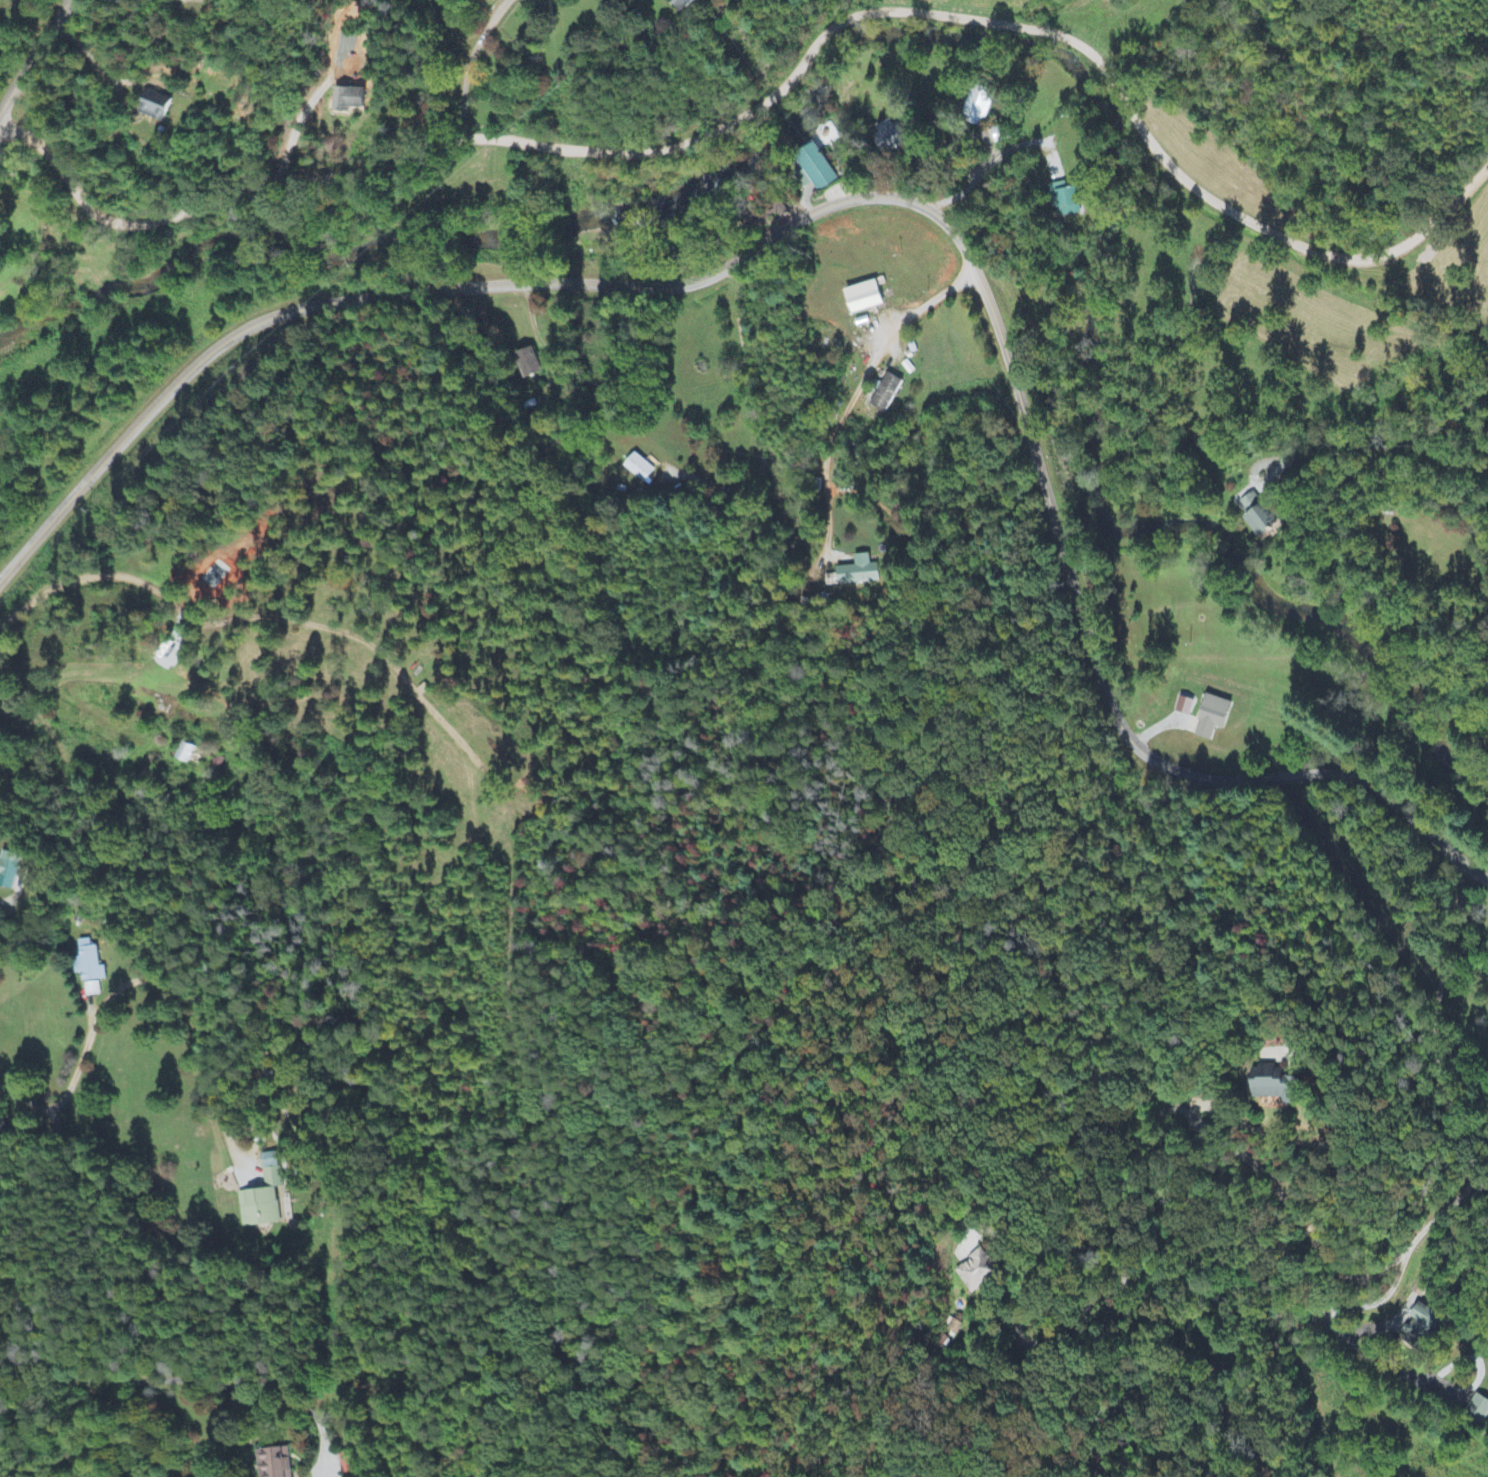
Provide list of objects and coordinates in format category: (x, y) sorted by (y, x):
building: (680, 4)
road: (33, 55)
road: (777, 66)
building: (348, 99)
building: (154, 106)
building: (977, 106)
dam: (770, 127)
building: (889, 137)
building: (814, 168)
road: (887, 197)
building: (1065, 200)
building: (863, 298)
building: (527, 364)
building: (886, 394)
building: (639, 468)
building: (1256, 514)
building: (859, 572)
building: (831, 581)
building: (1184, 707)
building: (1212, 718)
building: (184, 754)
building: (8, 870)
building: (87, 964)
road: (147, 981)
building: (91, 990)
building: (1275, 1086)
building: (271, 1171)
building: (258, 1209)
road: (1299, 1219)
building: (976, 1271)
building: (1479, 1408)
building: (273, 1463)
building: (345, 1464)

